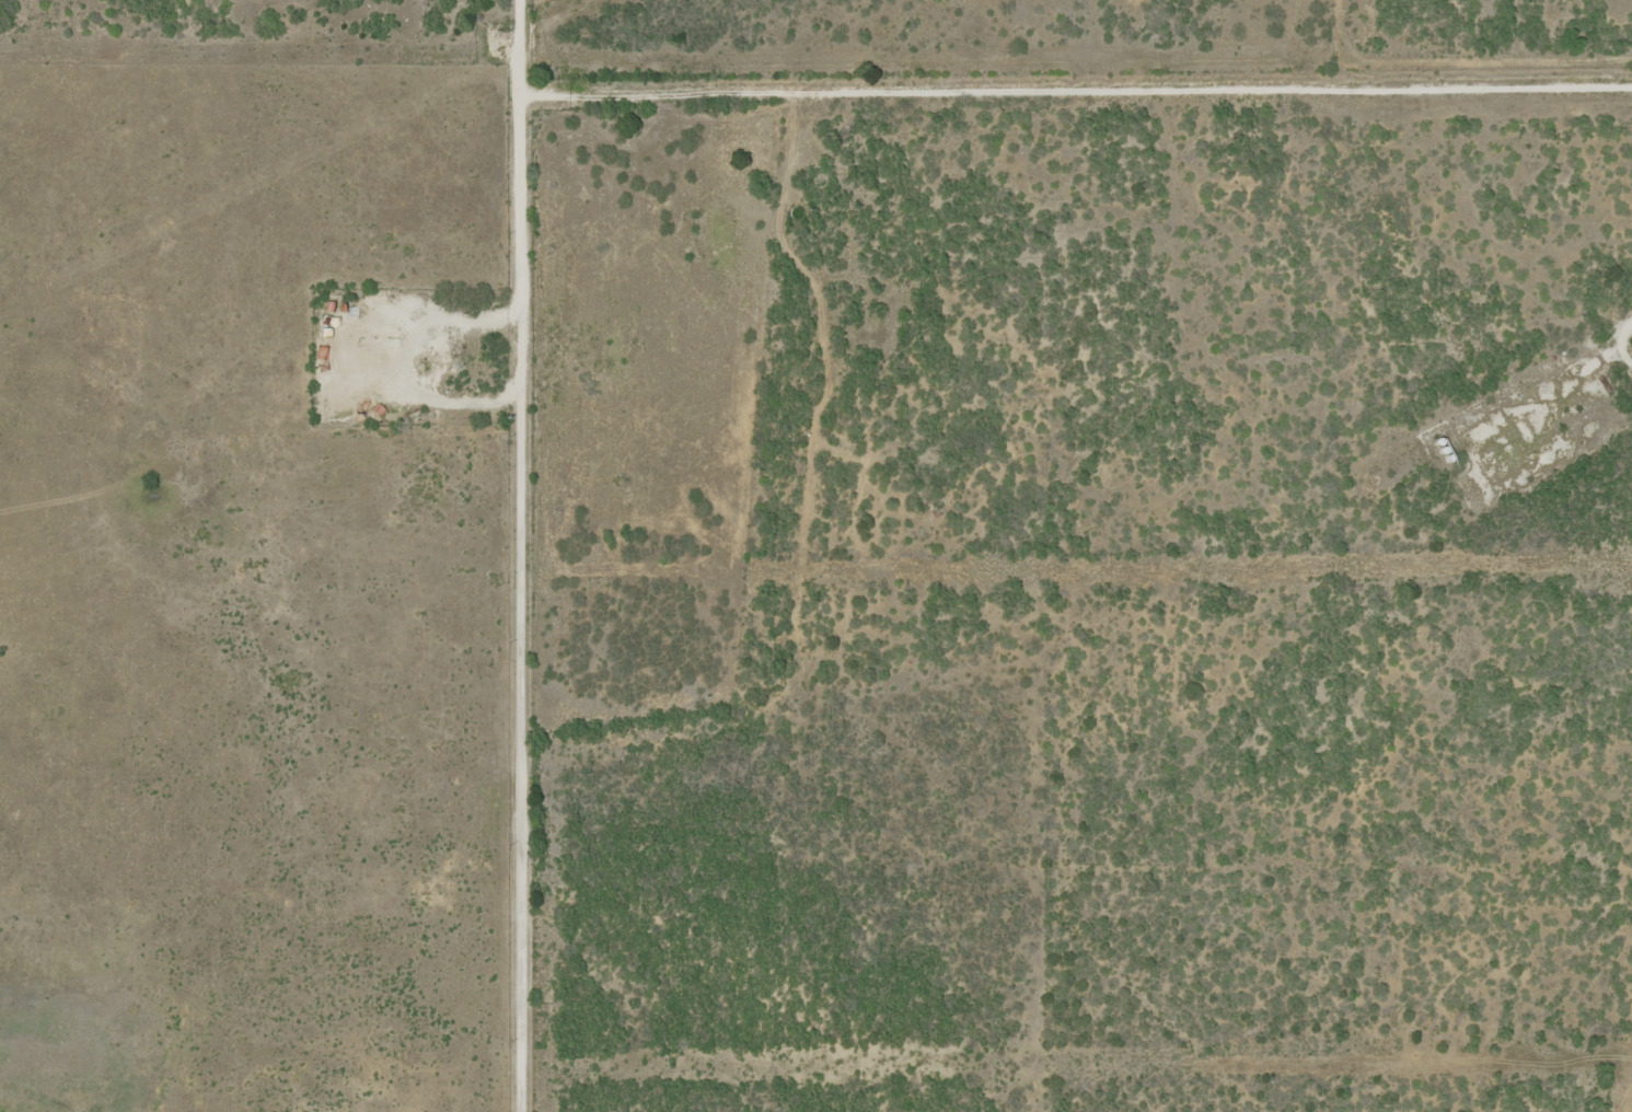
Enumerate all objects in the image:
road: (1074, 101)
road: (518, 555)

